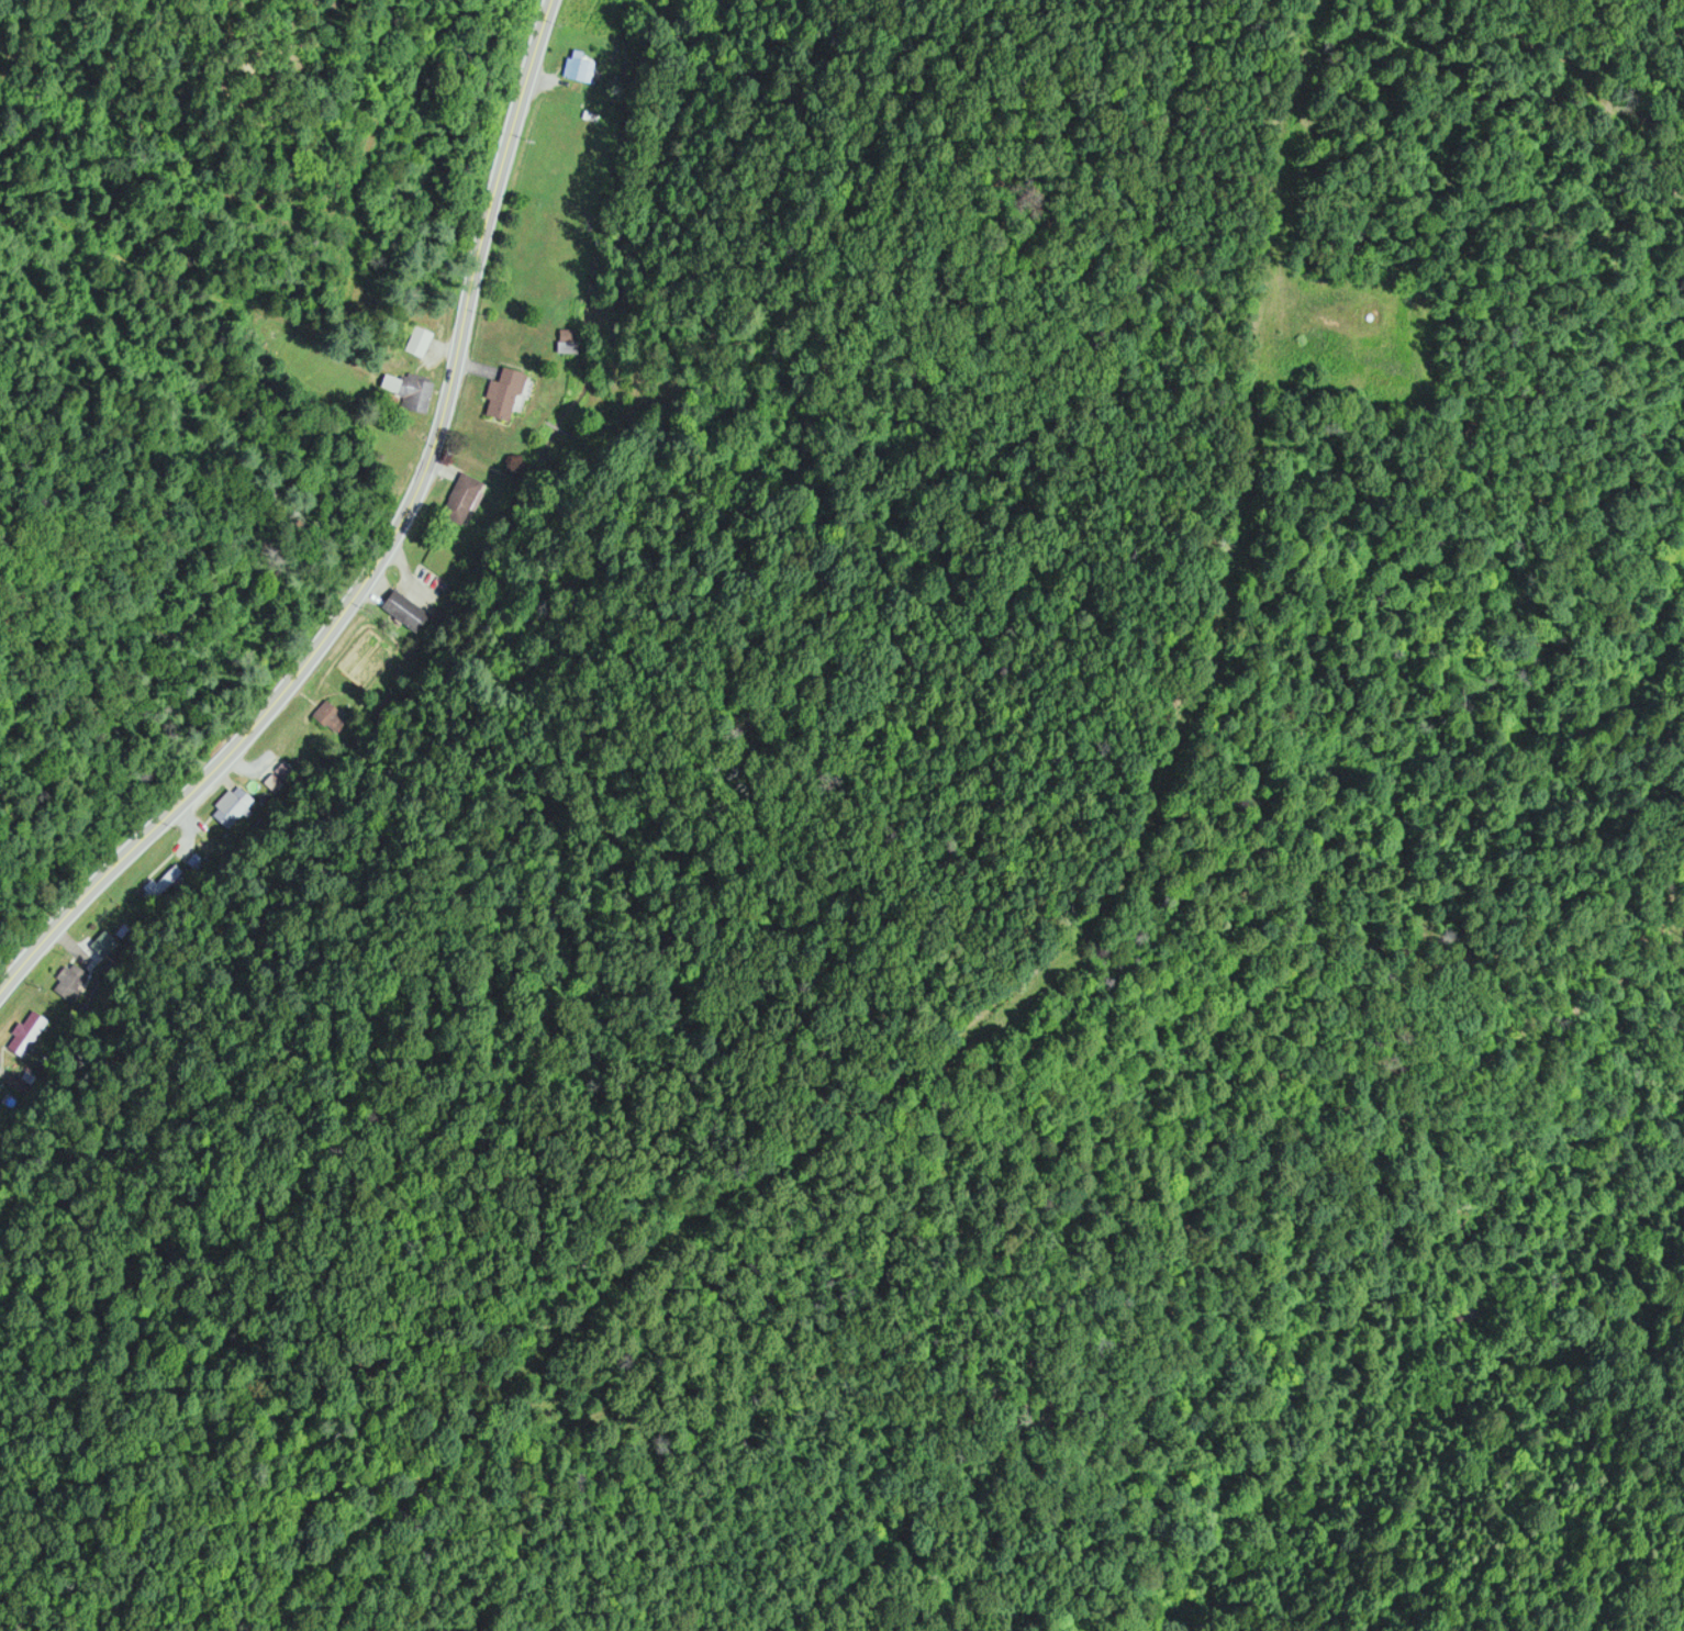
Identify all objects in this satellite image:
building: (578, 69)
building: (419, 343)
building: (567, 344)
building: (500, 395)
building: (415, 396)
road: (382, 557)
building: (402, 612)
building: (330, 718)
building: (286, 772)
building: (232, 809)
building: (161, 884)
building: (104, 946)
road: (1072, 948)
building: (69, 985)
building: (25, 1036)

